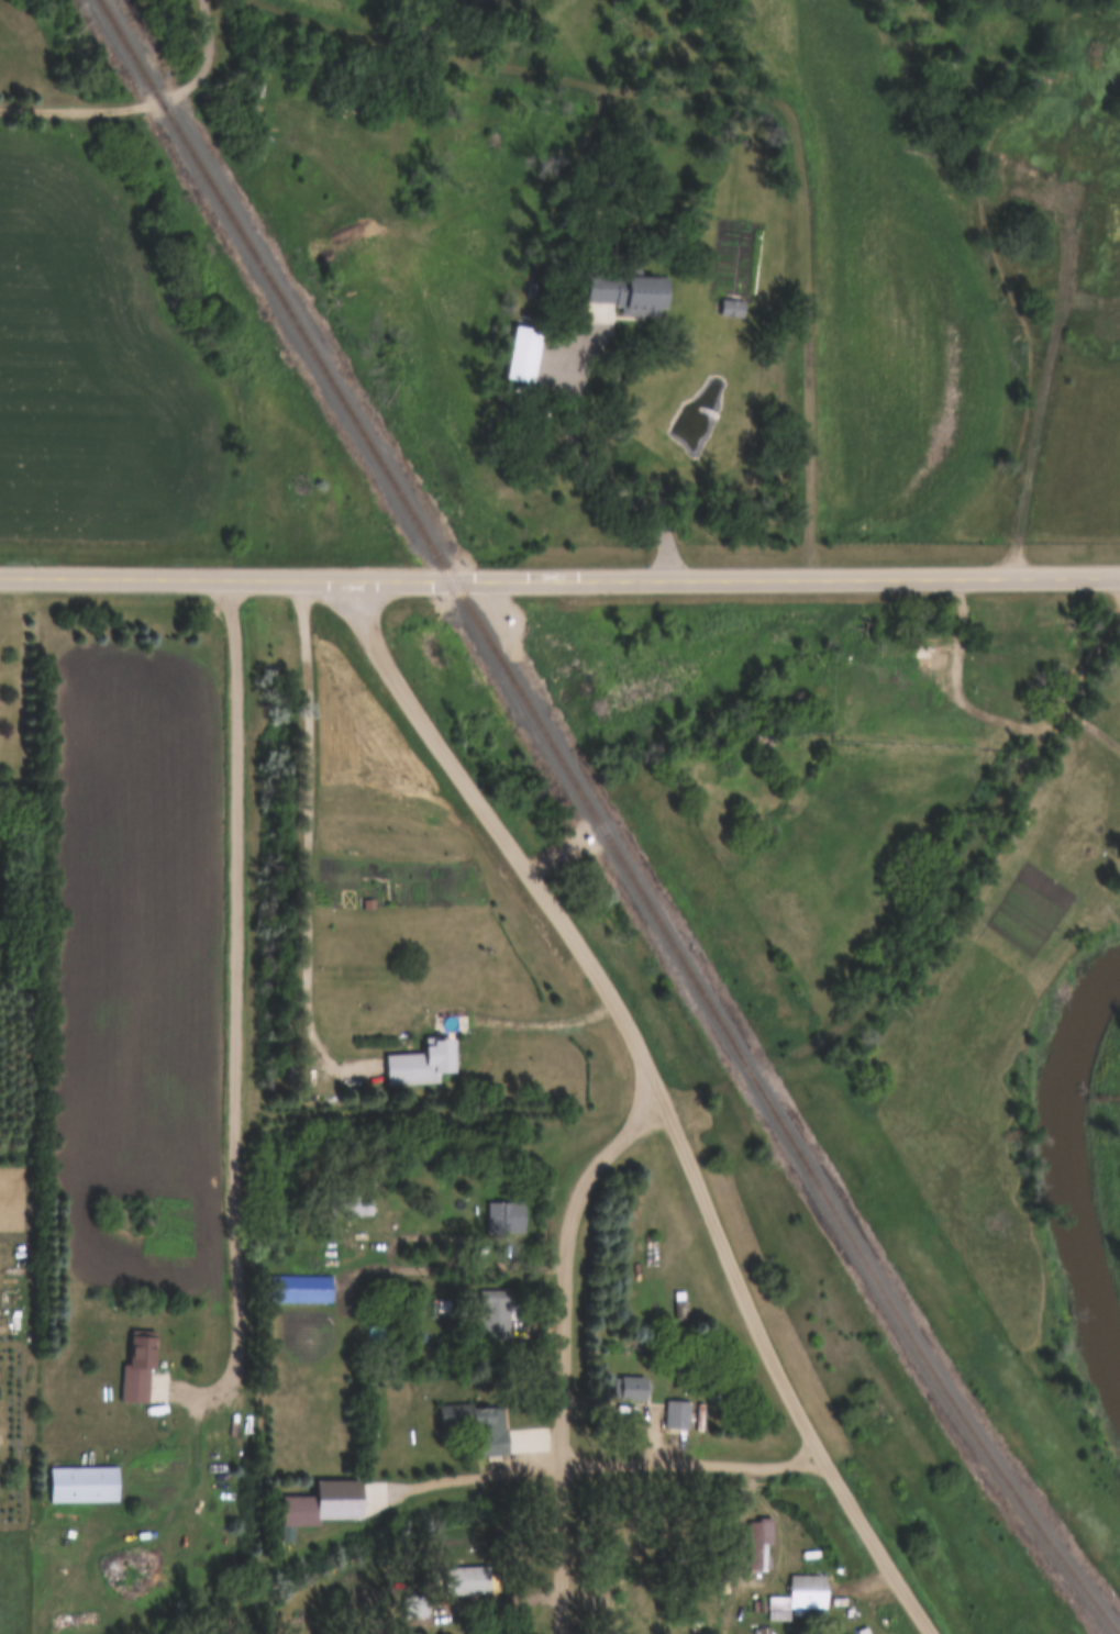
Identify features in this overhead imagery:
road: (141, 103)
building: (1079, 153)
building: (995, 177)
building: (634, 294)
building: (730, 308)
building: (1108, 318)
building: (526, 354)
road: (1047, 362)
road: (661, 458)
road: (559, 579)
building: (913, 665)
road: (1055, 713)
railway: (595, 825)
road: (506, 835)
road: (239, 1013)
road: (529, 1019)
building: (421, 1064)
road: (731, 1077)
river: (1057, 1166)
building: (506, 1219)
building: (300, 1290)
building: (495, 1315)
road: (564, 1345)
building: (137, 1369)
road: (781, 1370)
building: (676, 1415)
building: (478, 1426)
road: (695, 1459)
road: (463, 1474)
building: (84, 1485)
building: (298, 1513)
building: (757, 1545)
road: (780, 1556)
building: (469, 1581)
building: (623, 1586)
building: (798, 1597)
building: (862, 1632)

